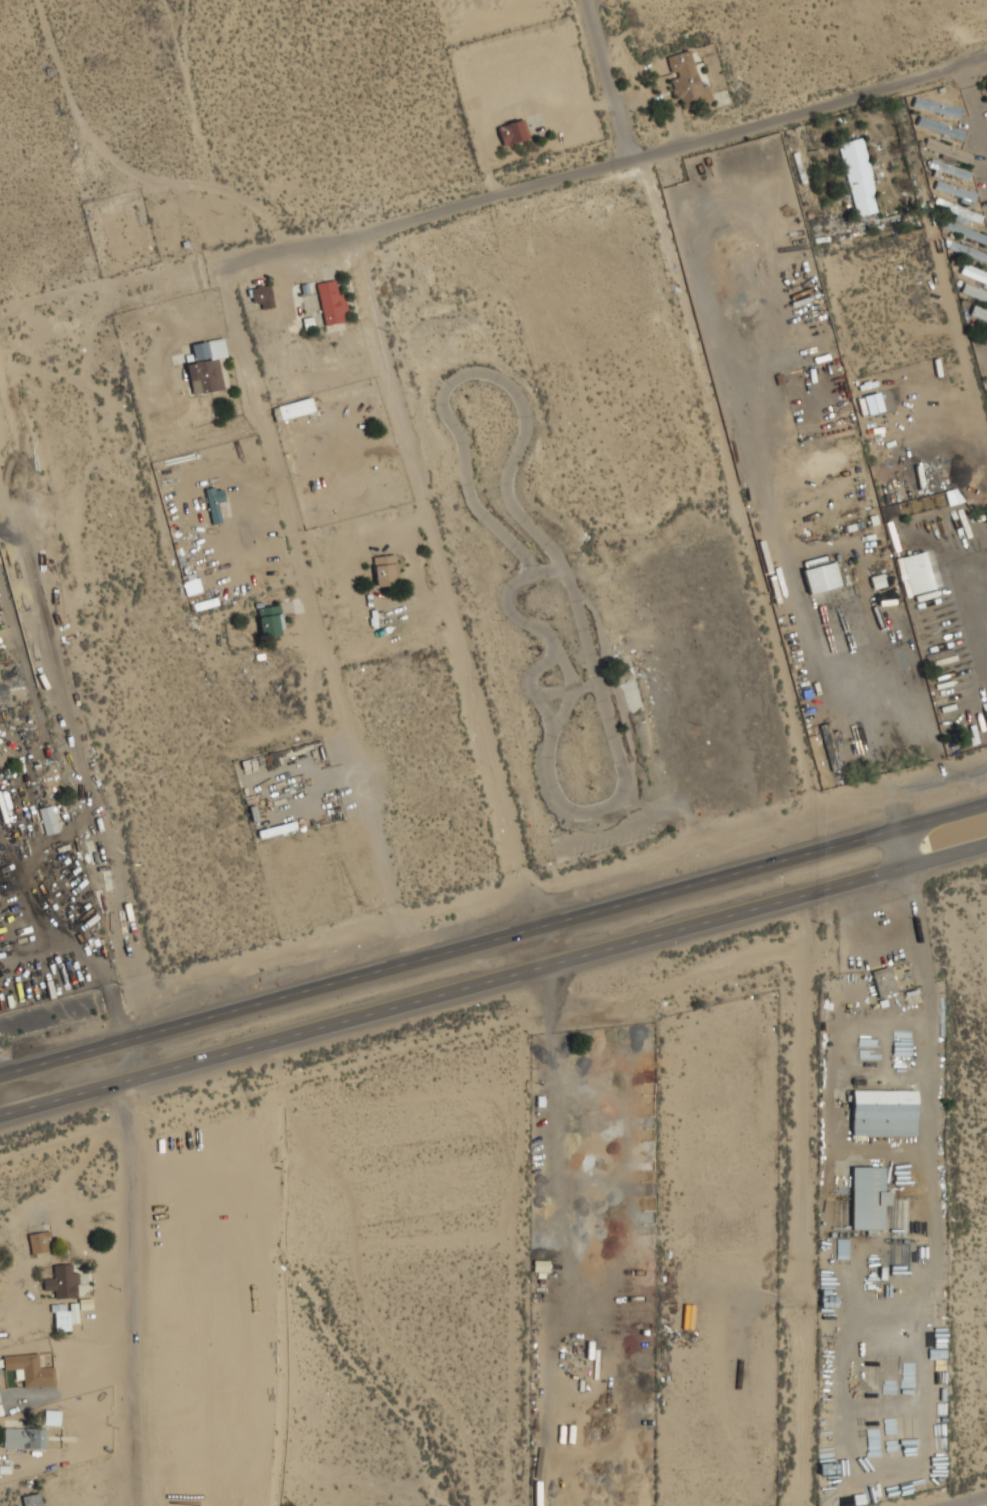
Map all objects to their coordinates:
road: (606, 80)
building: (685, 80)
building: (936, 107)
road: (973, 107)
building: (940, 128)
building: (513, 132)
building: (947, 150)
road: (636, 157)
road: (119, 167)
building: (948, 169)
building: (858, 177)
building: (955, 191)
building: (961, 211)
building: (963, 231)
building: (968, 252)
road: (245, 255)
building: (973, 273)
building: (974, 292)
building: (262, 296)
building: (331, 302)
building: (978, 313)
building: (206, 366)
building: (295, 408)
building: (214, 503)
building: (385, 570)
building: (914, 573)
building: (821, 577)
road: (445, 582)
road: (311, 614)
building: (269, 621)
building: (830, 747)
building: (48, 820)
road: (493, 941)
road: (493, 981)
building: (884, 981)
building: (883, 1112)
building: (868, 1198)
building: (38, 1242)
road: (131, 1273)
building: (62, 1282)
building: (63, 1319)
building: (29, 1370)
building: (24, 1438)
building: (31, 1500)
road: (967, 1500)

